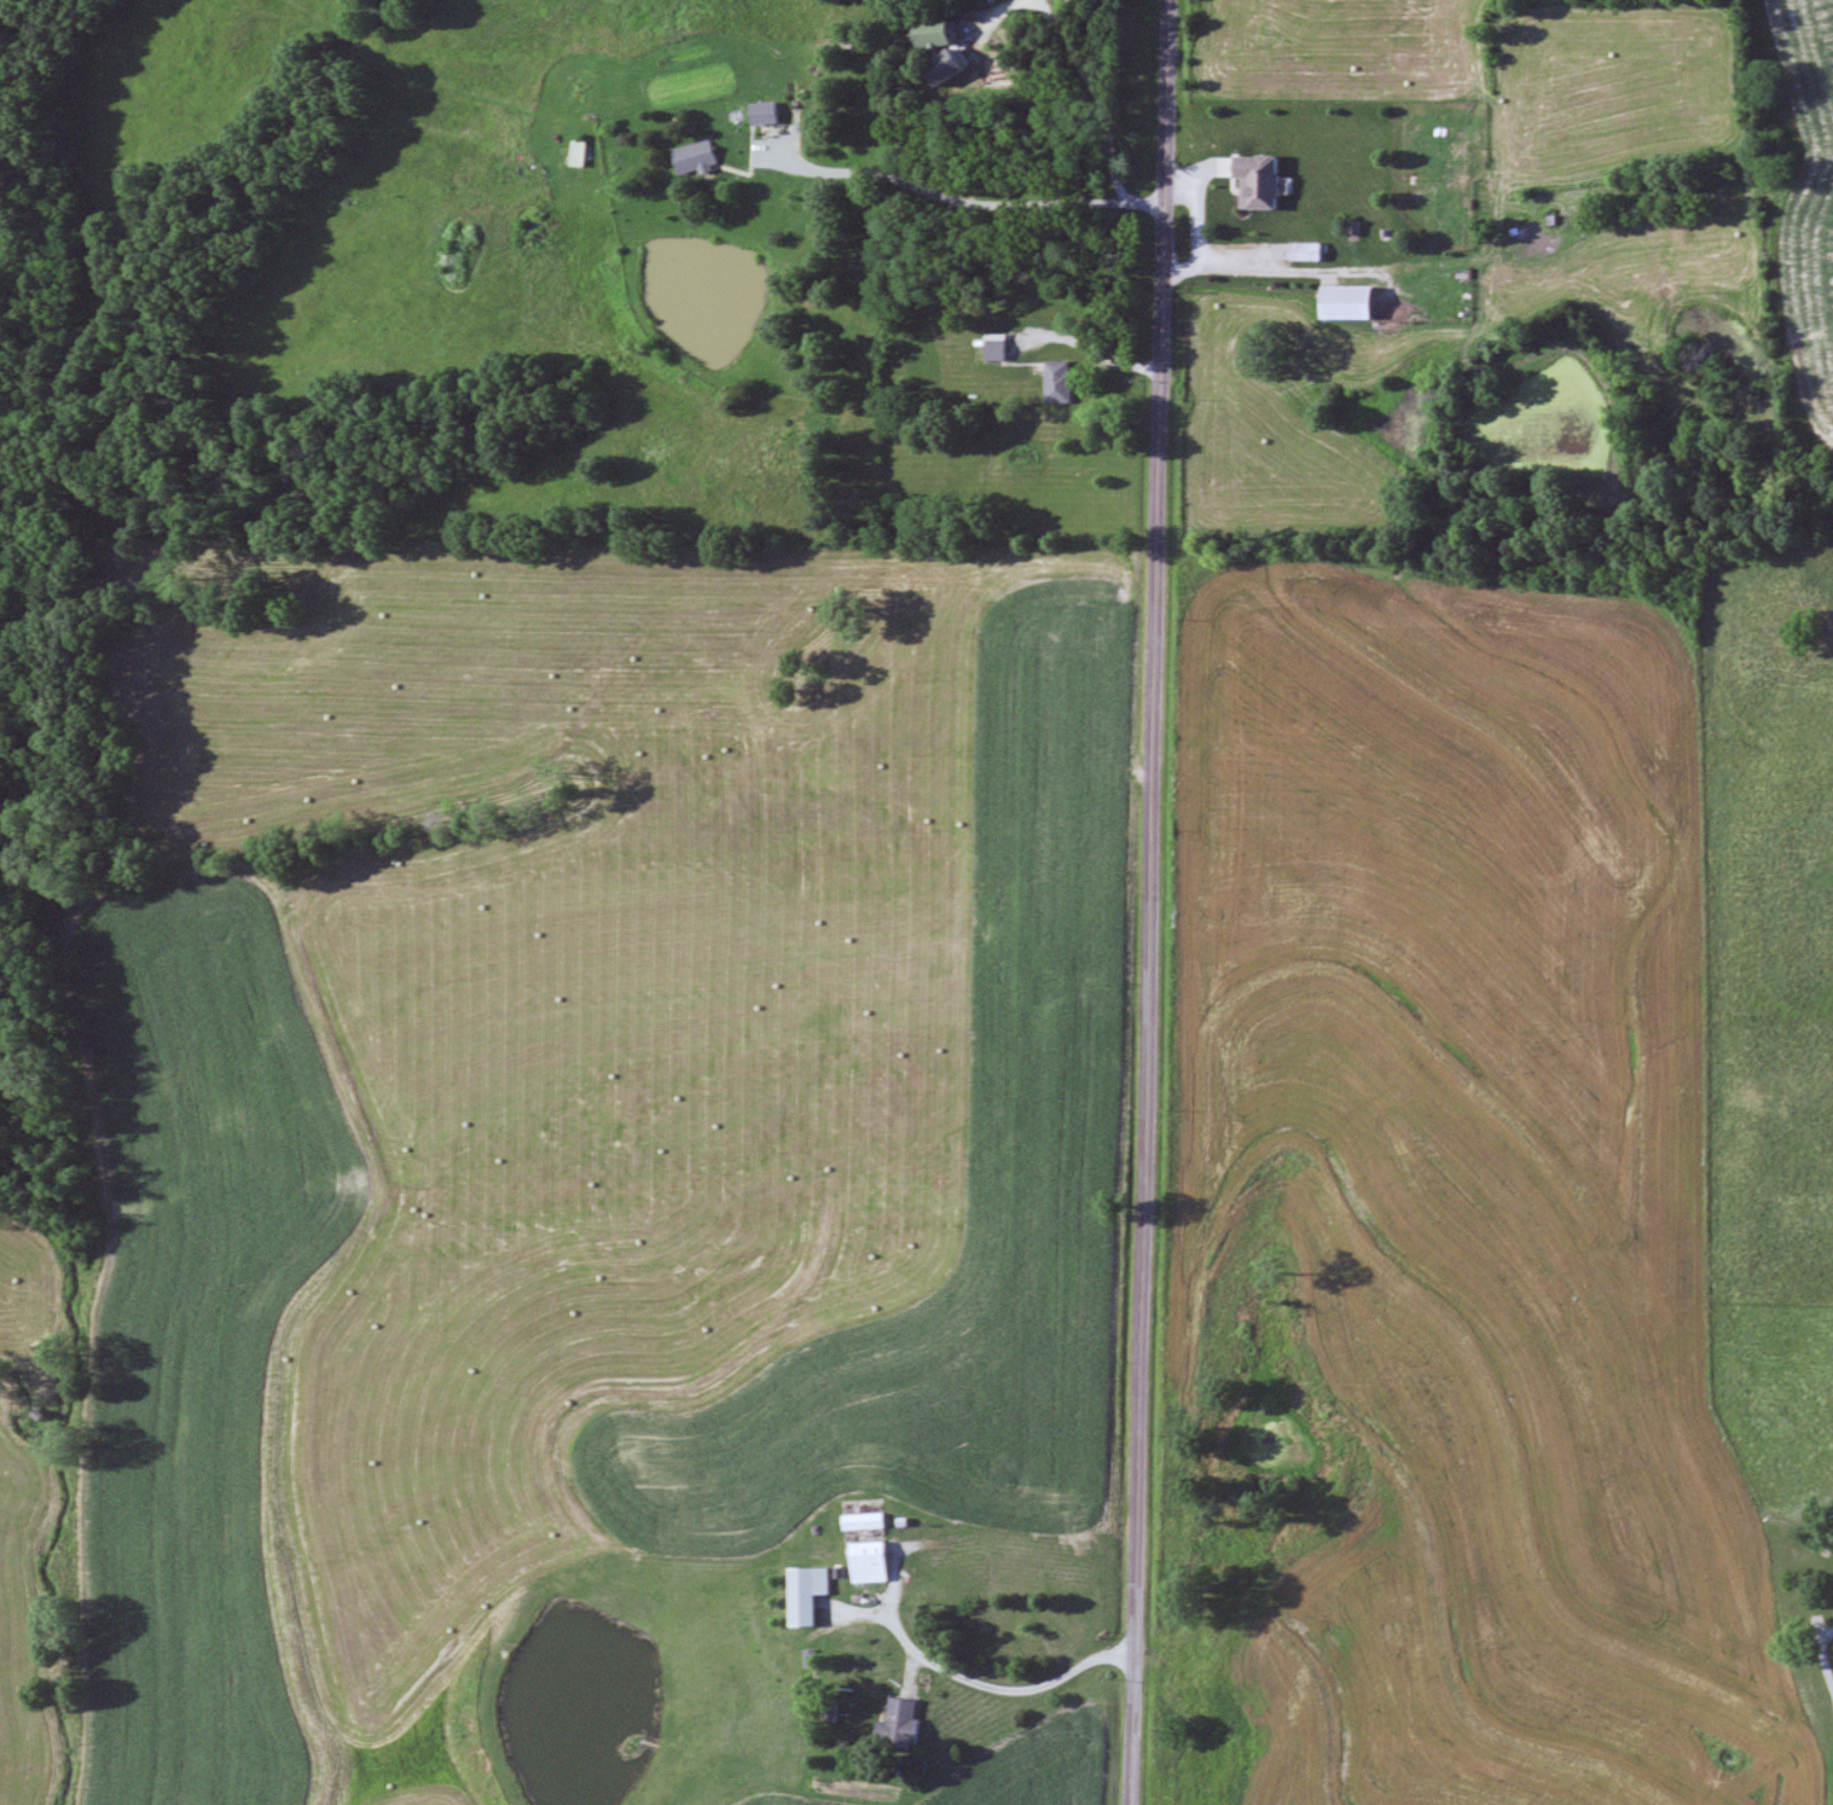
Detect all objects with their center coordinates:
building: (947, 34)
road: (980, 63)
road: (1101, 89)
building: (772, 114)
building: (586, 153)
building: (701, 158)
building: (1448, 166)
building: (1266, 182)
road: (959, 204)
building: (1315, 251)
road: (1278, 282)
building: (1362, 303)
building: (1004, 350)
road: (1100, 367)
building: (1065, 382)
road: (1154, 902)
road: (974, 1046)
building: (872, 1521)
building: (881, 1562)
building: (817, 1594)
road: (967, 1668)
building: (910, 1722)

